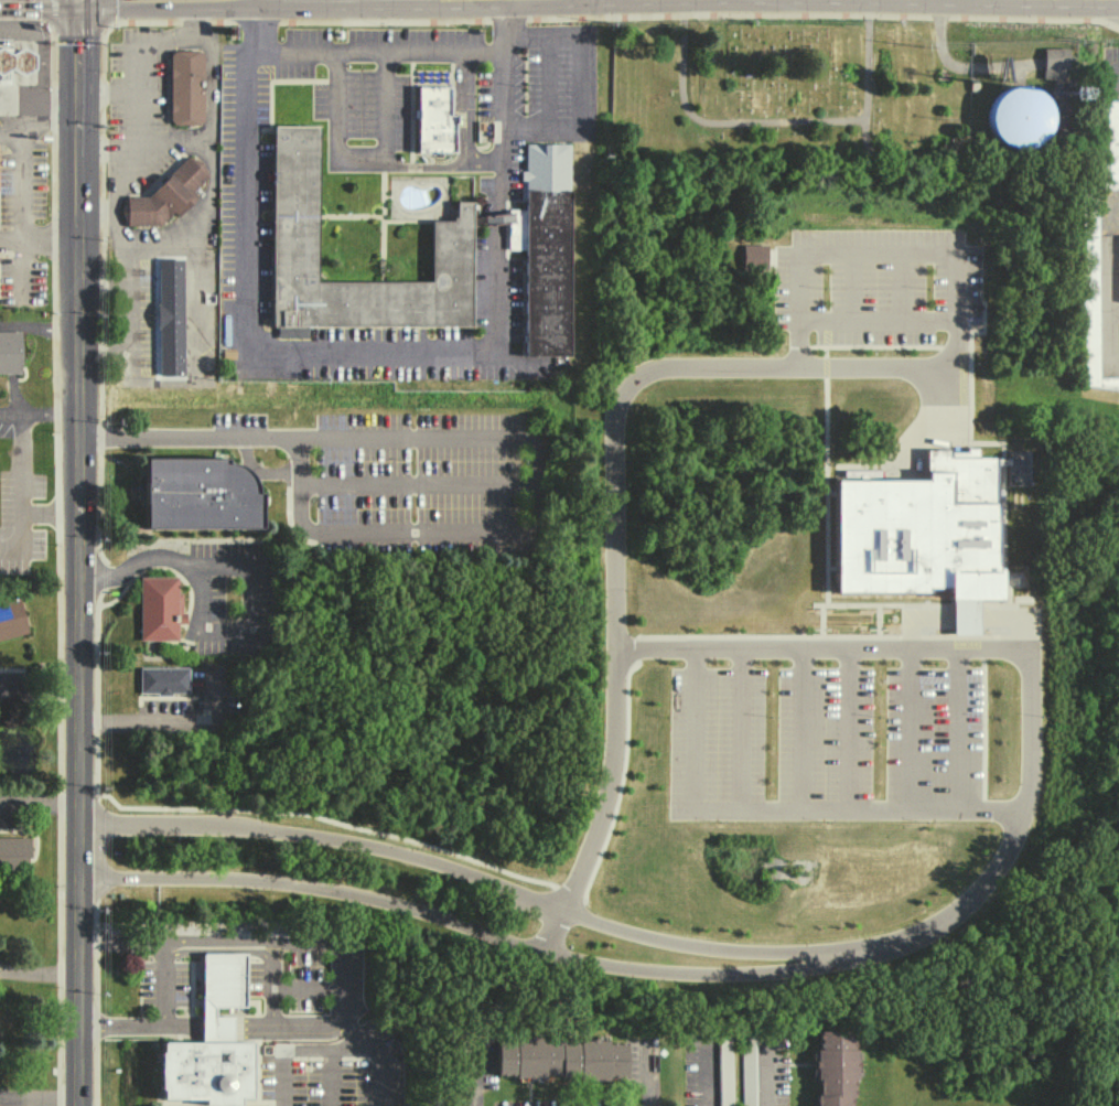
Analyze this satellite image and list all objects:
road: (191, 18)
road: (399, 49)
road: (212, 60)
building: (20, 63)
building: (1053, 63)
road: (1105, 69)
park: (775, 80)
road: (583, 83)
road: (107, 90)
building: (190, 92)
road: (39, 97)
road: (464, 106)
road: (381, 107)
building: (1018, 116)
water tower: (1018, 118)
road: (778, 121)
road: (37, 124)
building: (441, 126)
road: (502, 127)
road: (175, 139)
building: (1110, 144)
road: (106, 146)
road: (349, 159)
road: (484, 162)
road: (21, 184)
road: (1088, 191)
building: (171, 200)
road: (96, 213)
road: (501, 225)
road: (37, 239)
road: (160, 248)
building: (303, 254)
building: (755, 256)
building: (546, 257)
building: (2, 267)
road: (20, 267)
road: (101, 283)
road: (1108, 284)
road: (246, 297)
road: (499, 297)
building: (1089, 298)
building: (175, 322)
road: (39, 329)
building: (10, 352)
road: (687, 363)
road: (39, 414)
road: (512, 436)
road: (416, 483)
road: (21, 490)
building: (197, 494)
road: (49, 512)
building: (923, 534)
road: (77, 552)
road: (246, 578)
building: (158, 608)
building: (11, 618)
road: (1003, 640)
building: (162, 679)
road: (40, 695)
road: (166, 721)
road: (40, 804)
road: (775, 810)
building: (13, 853)
road: (93, 856)
road: (260, 942)
road: (867, 945)
road: (39, 969)
road: (161, 1024)
building: (212, 1042)
road: (329, 1046)
building: (560, 1059)
building: (833, 1067)
building: (724, 1071)
road: (706, 1072)
road: (765, 1074)
road: (647, 1076)
road: (472, 1077)
road: (39, 1096)

